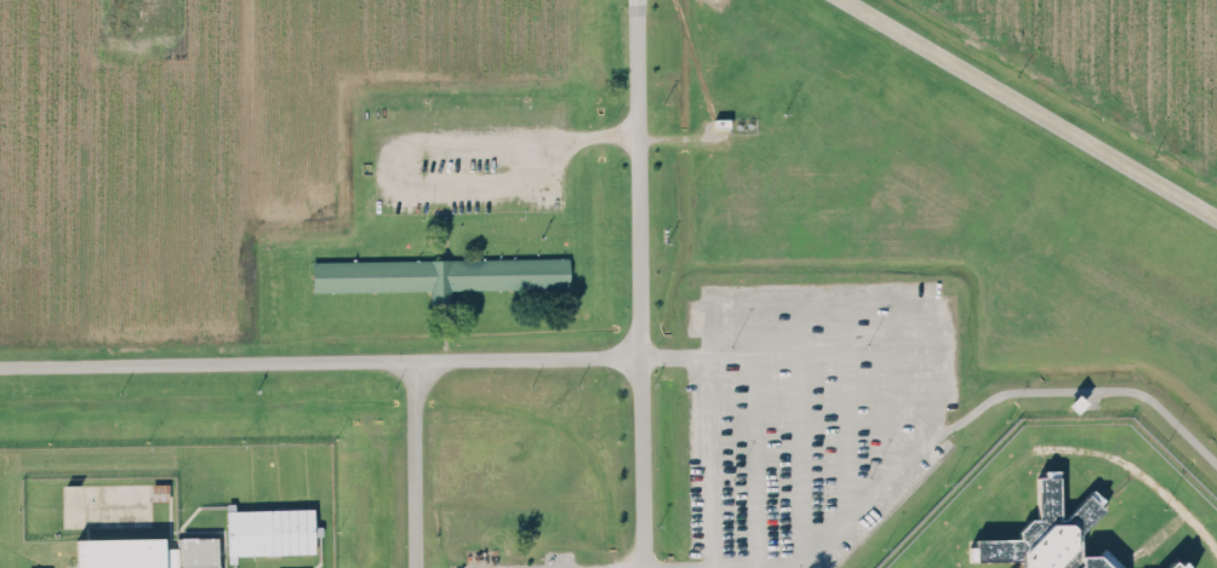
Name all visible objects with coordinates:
crop: (1116, 59)
road: (1028, 109)
crop: (206, 142)
road: (423, 147)
building: (441, 272)
road: (638, 283)
road: (756, 302)
road: (785, 352)
road: (319, 361)
road: (897, 384)
road: (844, 409)
road: (799, 430)
road: (753, 432)
road: (926, 440)
road: (417, 464)
building: (159, 490)
building: (1046, 493)
building: (269, 530)
building: (1040, 539)
building: (119, 551)
building: (199, 551)
road: (624, 567)

